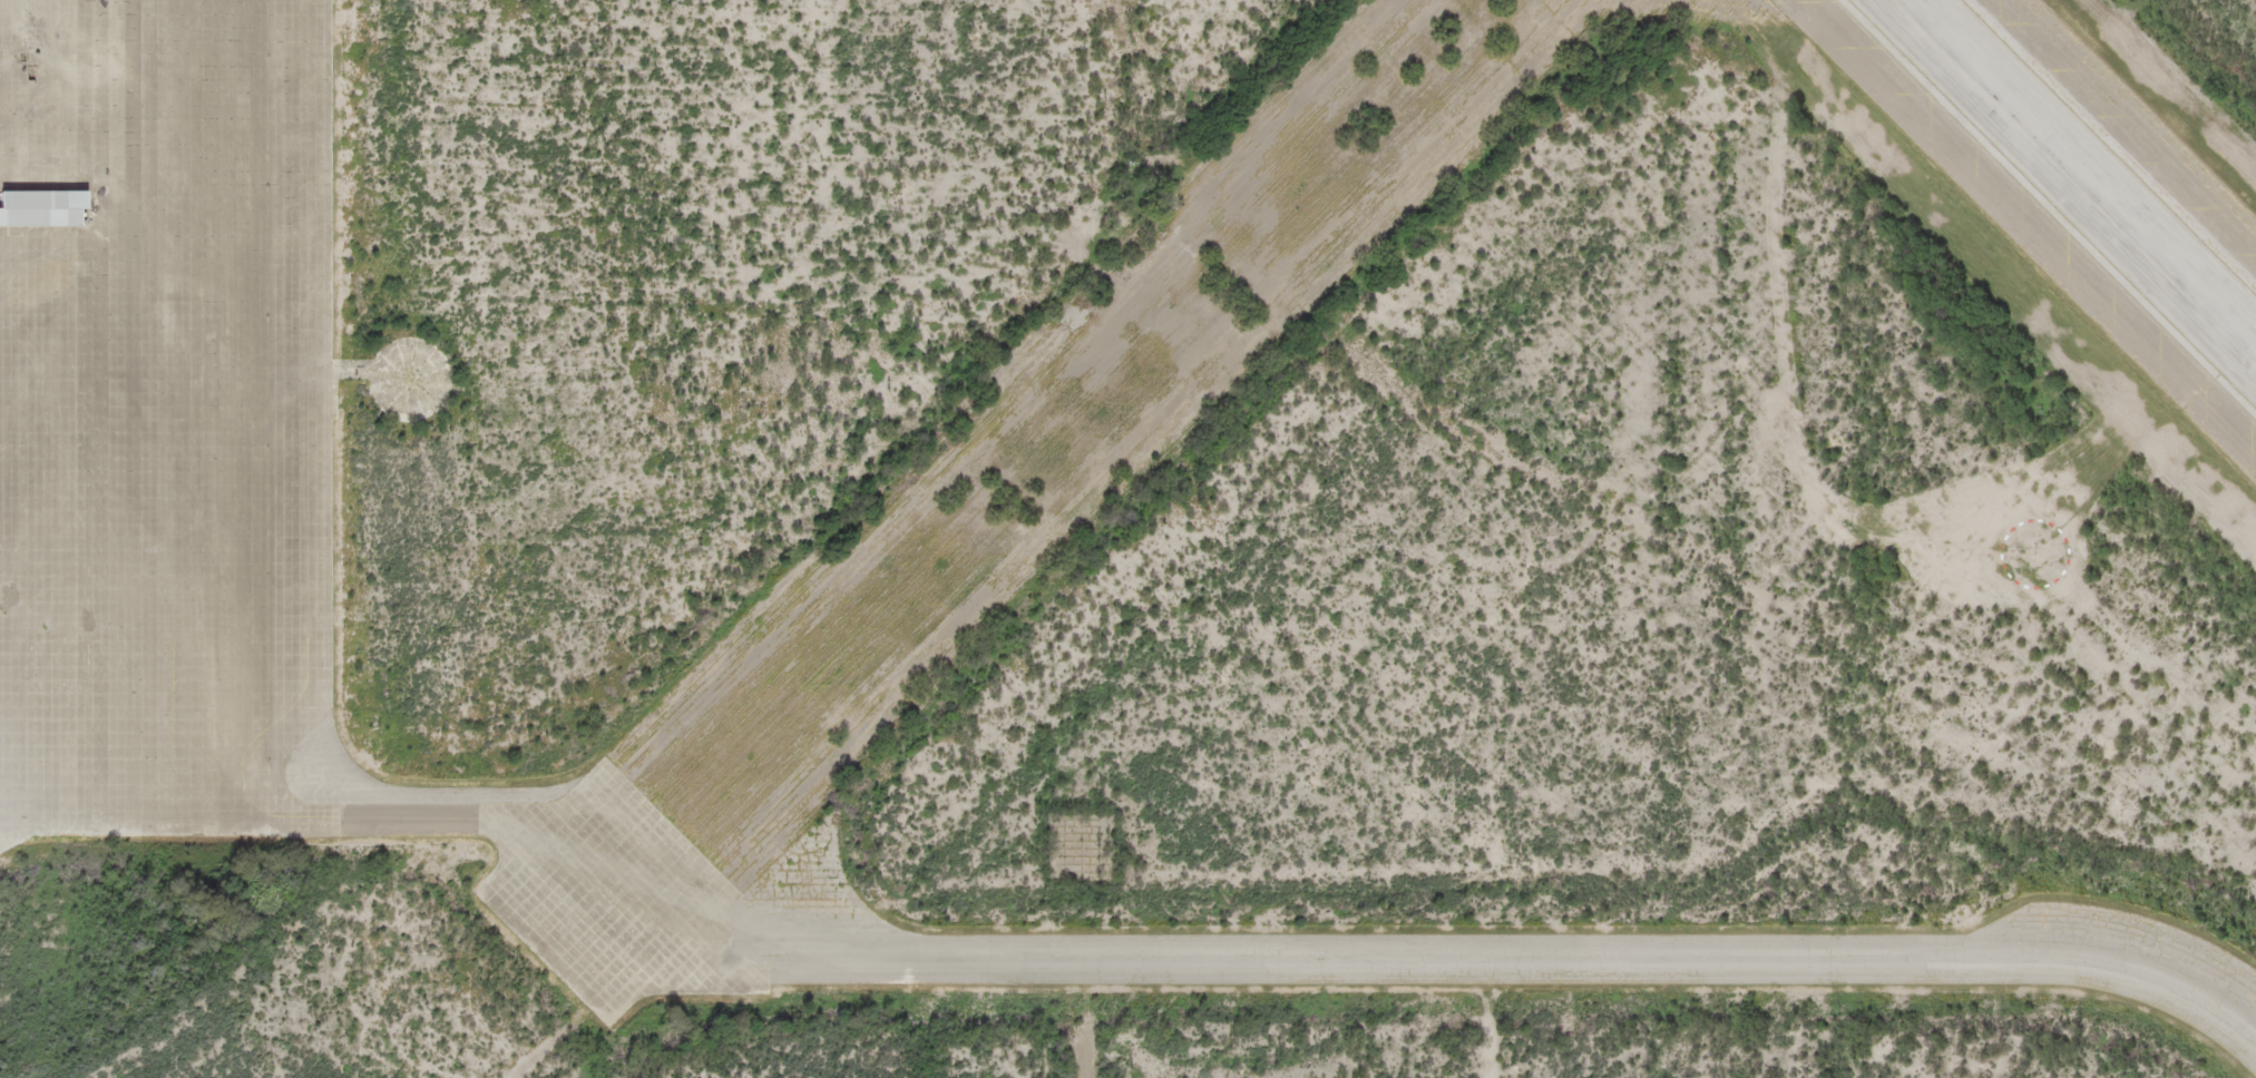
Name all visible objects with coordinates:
airport runway: (2079, 177)
building: (40, 209)
airport apron: (166, 415)
airport: (1127, 539)
airport taxiway: (1291, 970)

